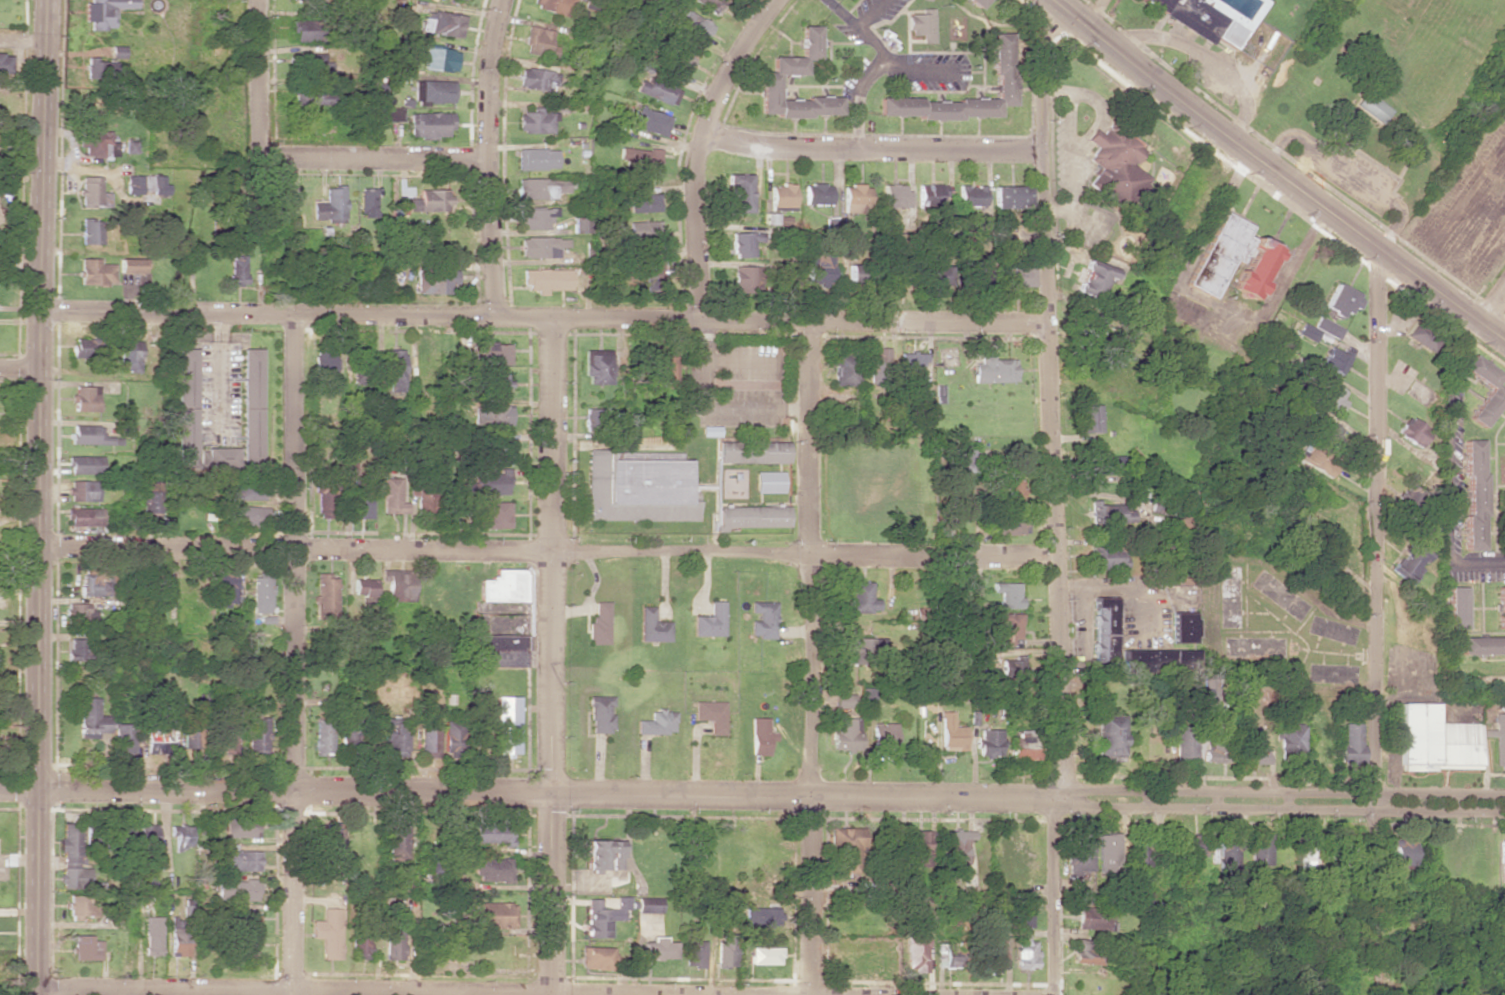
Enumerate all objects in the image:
building: (306, 1)
building: (975, 2)
building: (1156, 4)
building: (551, 5)
building: (709, 5)
building: (104, 12)
road: (1093, 14)
building: (1193, 18)
building: (440, 24)
building: (921, 24)
building: (696, 27)
building: (305, 30)
building: (1228, 33)
building: (538, 42)
building: (439, 59)
building: (675, 60)
building: (4, 63)
building: (304, 63)
building: (99, 70)
building: (781, 72)
road: (258, 79)
building: (537, 79)
building: (1003, 85)
building: (657, 90)
building: (432, 91)
building: (310, 95)
building: (1372, 107)
building: (392, 114)
building: (536, 121)
building: (649, 122)
building: (429, 125)
road: (872, 141)
building: (98, 145)
road: (702, 149)
road: (482, 157)
road: (371, 158)
building: (637, 158)
building: (535, 159)
building: (1113, 165)
road: (1278, 172)
building: (152, 190)
building: (533, 190)
building: (91, 192)
building: (736, 193)
building: (815, 194)
building: (929, 194)
building: (970, 195)
building: (893, 196)
building: (779, 197)
building: (1010, 197)
building: (854, 199)
building: (429, 201)
building: (366, 202)
building: (643, 203)
building: (329, 206)
building: (535, 218)
building: (766, 218)
building: (580, 225)
building: (642, 230)
building: (90, 231)
building: (743, 243)
building: (541, 247)
building: (1220, 254)
building: (129, 266)
building: (818, 268)
building: (1256, 269)
building: (237, 270)
building: (334, 271)
building: (95, 272)
building: (852, 273)
building: (655, 274)
building: (936, 275)
building: (1014, 275)
building: (1097, 276)
building: (545, 279)
building: (745, 279)
building: (433, 282)
building: (1340, 301)
road: (1493, 307)
road: (543, 320)
building: (1088, 322)
building: (1327, 328)
building: (1309, 333)
building: (1420, 334)
building: (85, 348)
building: (128, 355)
building: (1335, 360)
building: (911, 364)
building: (876, 365)
building: (596, 366)
building: (324, 367)
building: (665, 367)
building: (843, 368)
building: (394, 370)
building: (995, 370)
road: (19, 371)
building: (500, 383)
building: (1494, 390)
building: (1330, 395)
building: (84, 399)
building: (250, 406)
building: (184, 408)
building: (490, 416)
building: (1092, 418)
building: (592, 419)
building: (1412, 431)
building: (1326, 433)
building: (86, 434)
building: (501, 451)
building: (751, 452)
building: (217, 458)
building: (1316, 459)
building: (84, 465)
building: (1111, 465)
building: (769, 482)
building: (491, 483)
building: (637, 489)
building: (1011, 490)
building: (81, 491)
building: (247, 493)
building: (1473, 495)
road: (40, 497)
building: (391, 497)
road: (1054, 497)
building: (150, 499)
building: (425, 500)
building: (323, 502)
building: (360, 503)
building: (451, 507)
building: (1114, 514)
building: (244, 515)
building: (493, 515)
building: (85, 517)
building: (750, 517)
building: (1015, 526)
road: (549, 550)
building: (1107, 557)
road: (549, 558)
building: (1408, 563)
building: (91, 586)
building: (399, 586)
building: (503, 586)
building: (363, 587)
building: (224, 589)
building: (158, 592)
building: (260, 594)
building: (1007, 594)
building: (324, 596)
building: (860, 596)
building: (1454, 607)
building: (1500, 607)
building: (80, 614)
road: (1371, 619)
building: (762, 620)
building: (710, 621)
building: (599, 623)
building: (651, 626)
building: (1182, 627)
building: (1005, 628)
building: (1103, 632)
building: (1480, 645)
building: (498, 647)
building: (77, 649)
building: (865, 649)
road: (292, 654)
road: (811, 660)
building: (1155, 660)
building: (1011, 665)
building: (1210, 686)
building: (844, 700)
building: (600, 714)
building: (711, 715)
building: (91, 719)
building: (657, 723)
building: (506, 726)
building: (346, 728)
building: (190, 729)
building: (950, 733)
building: (845, 734)
building: (257, 735)
building: (450, 735)
building: (884, 735)
building: (226, 736)
building: (760, 736)
building: (321, 737)
building: (392, 737)
building: (427, 737)
building: (1109, 737)
building: (155, 738)
building: (123, 739)
building: (1443, 740)
building: (989, 743)
building: (1185, 743)
building: (1351, 743)
building: (1290, 744)
building: (1218, 745)
building: (1020, 746)
building: (1254, 748)
road: (275, 790)
road: (1028, 799)
building: (242, 826)
building: (119, 830)
building: (148, 836)
building: (181, 836)
building: (96, 841)
building: (398, 843)
building: (1195, 844)
building: (71, 845)
building: (956, 846)
building: (848, 848)
building: (917, 848)
building: (1260, 849)
building: (1107, 850)
building: (1139, 850)
building: (1310, 851)
building: (1399, 853)
building: (1079, 854)
building: (603, 855)
building: (1228, 855)
building: (240, 860)
building: (1502, 861)
building: (74, 878)
building: (235, 890)
road: (550, 895)
building: (1088, 898)
building: (648, 905)
building: (81, 906)
building: (606, 912)
building: (492, 915)
building: (751, 918)
building: (1092, 918)
building: (246, 921)
building: (328, 933)
building: (152, 936)
building: (178, 937)
building: (394, 942)
building: (359, 943)
building: (1023, 944)
building: (87, 948)
building: (657, 948)
building: (245, 950)
building: (725, 950)
building: (1086, 952)
building: (915, 953)
building: (694, 954)
building: (992, 954)
building: (763, 956)
building: (947, 956)
building: (596, 958)
building: (859, 961)
road: (292, 990)

